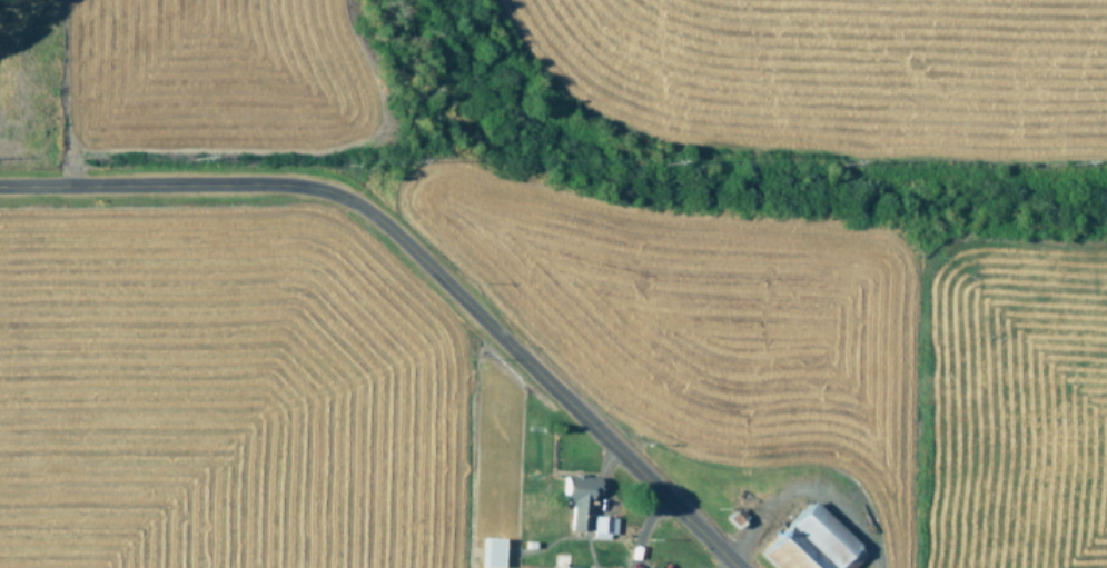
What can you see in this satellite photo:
road: (421, 258)
crop: (553, 283)
building: (574, 497)
building: (600, 526)
building: (809, 541)
building: (485, 552)

